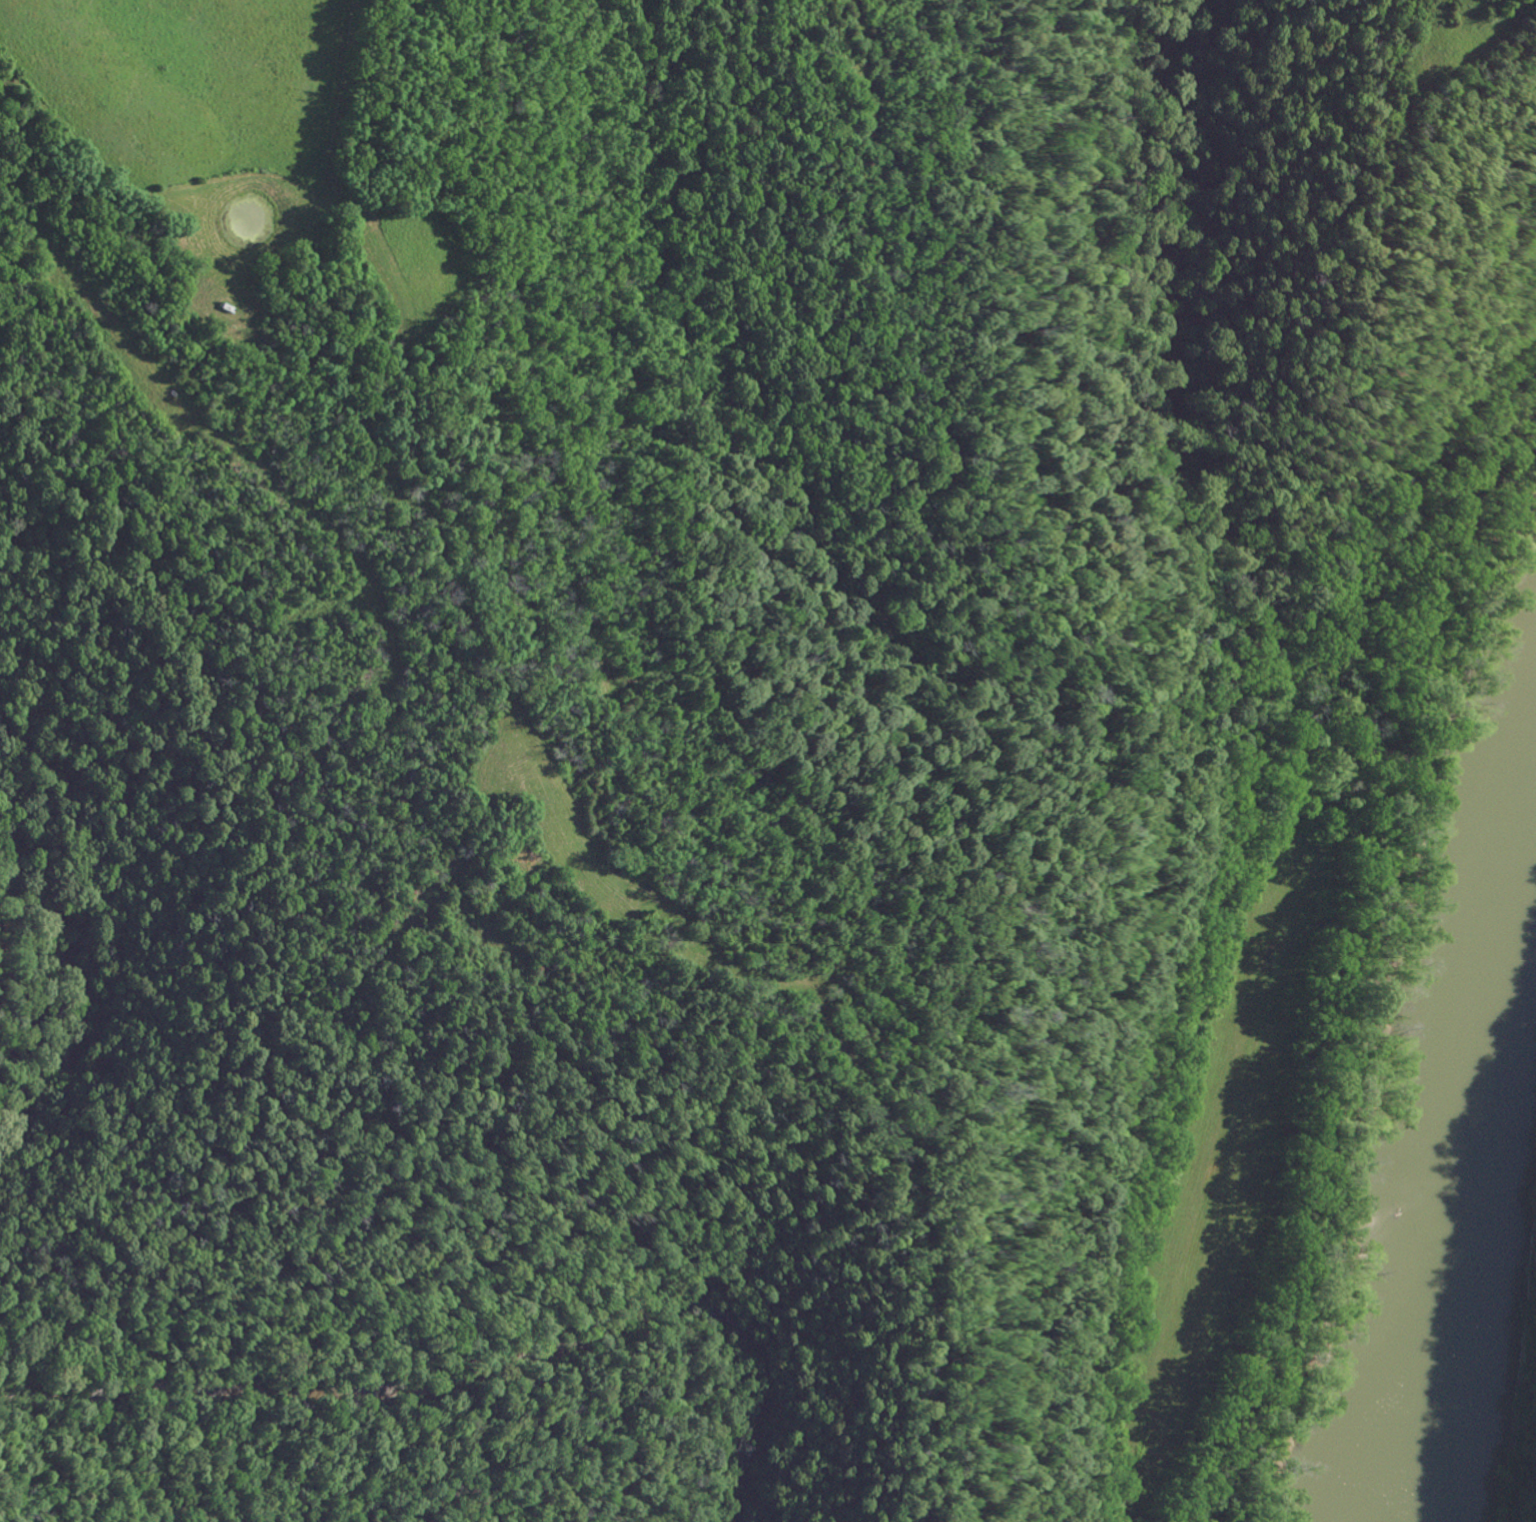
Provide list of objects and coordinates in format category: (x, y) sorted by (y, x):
river: (1473, 1173)

